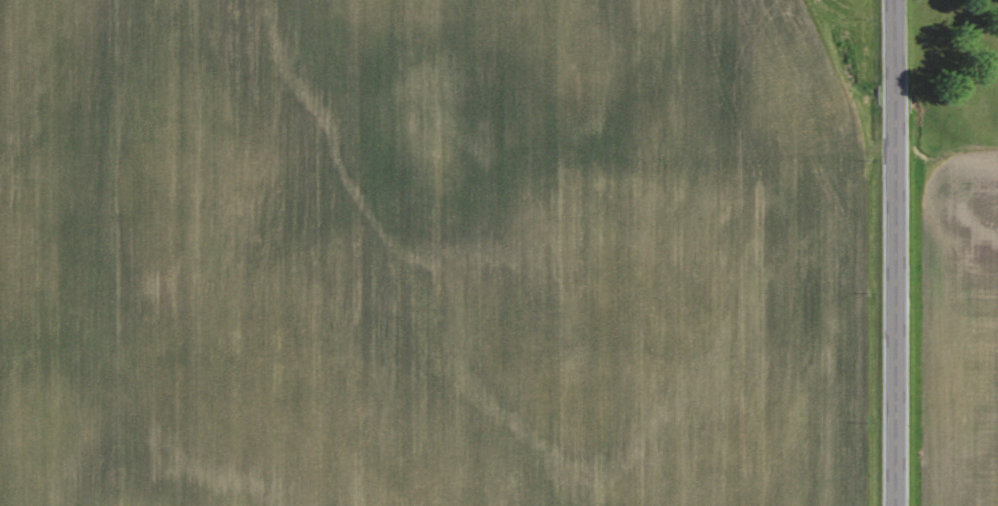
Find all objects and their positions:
road: (886, 253)

